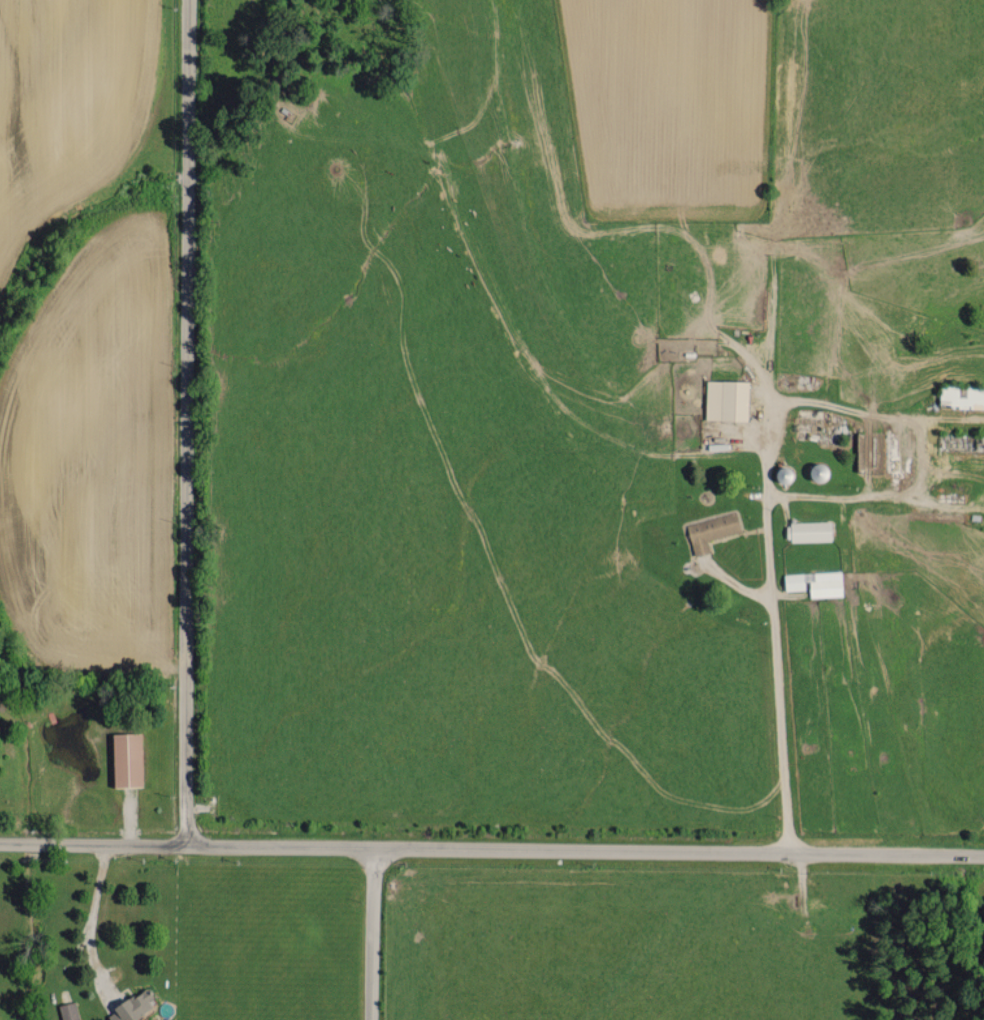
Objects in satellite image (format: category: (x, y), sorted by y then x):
building: (726, 399)
road: (186, 421)
road: (844, 496)
building: (711, 529)
building: (810, 531)
building: (816, 583)
road: (773, 617)
building: (127, 759)
road: (93, 843)
road: (585, 850)
road: (90, 922)
road: (371, 934)
building: (132, 1007)
building: (69, 1011)

